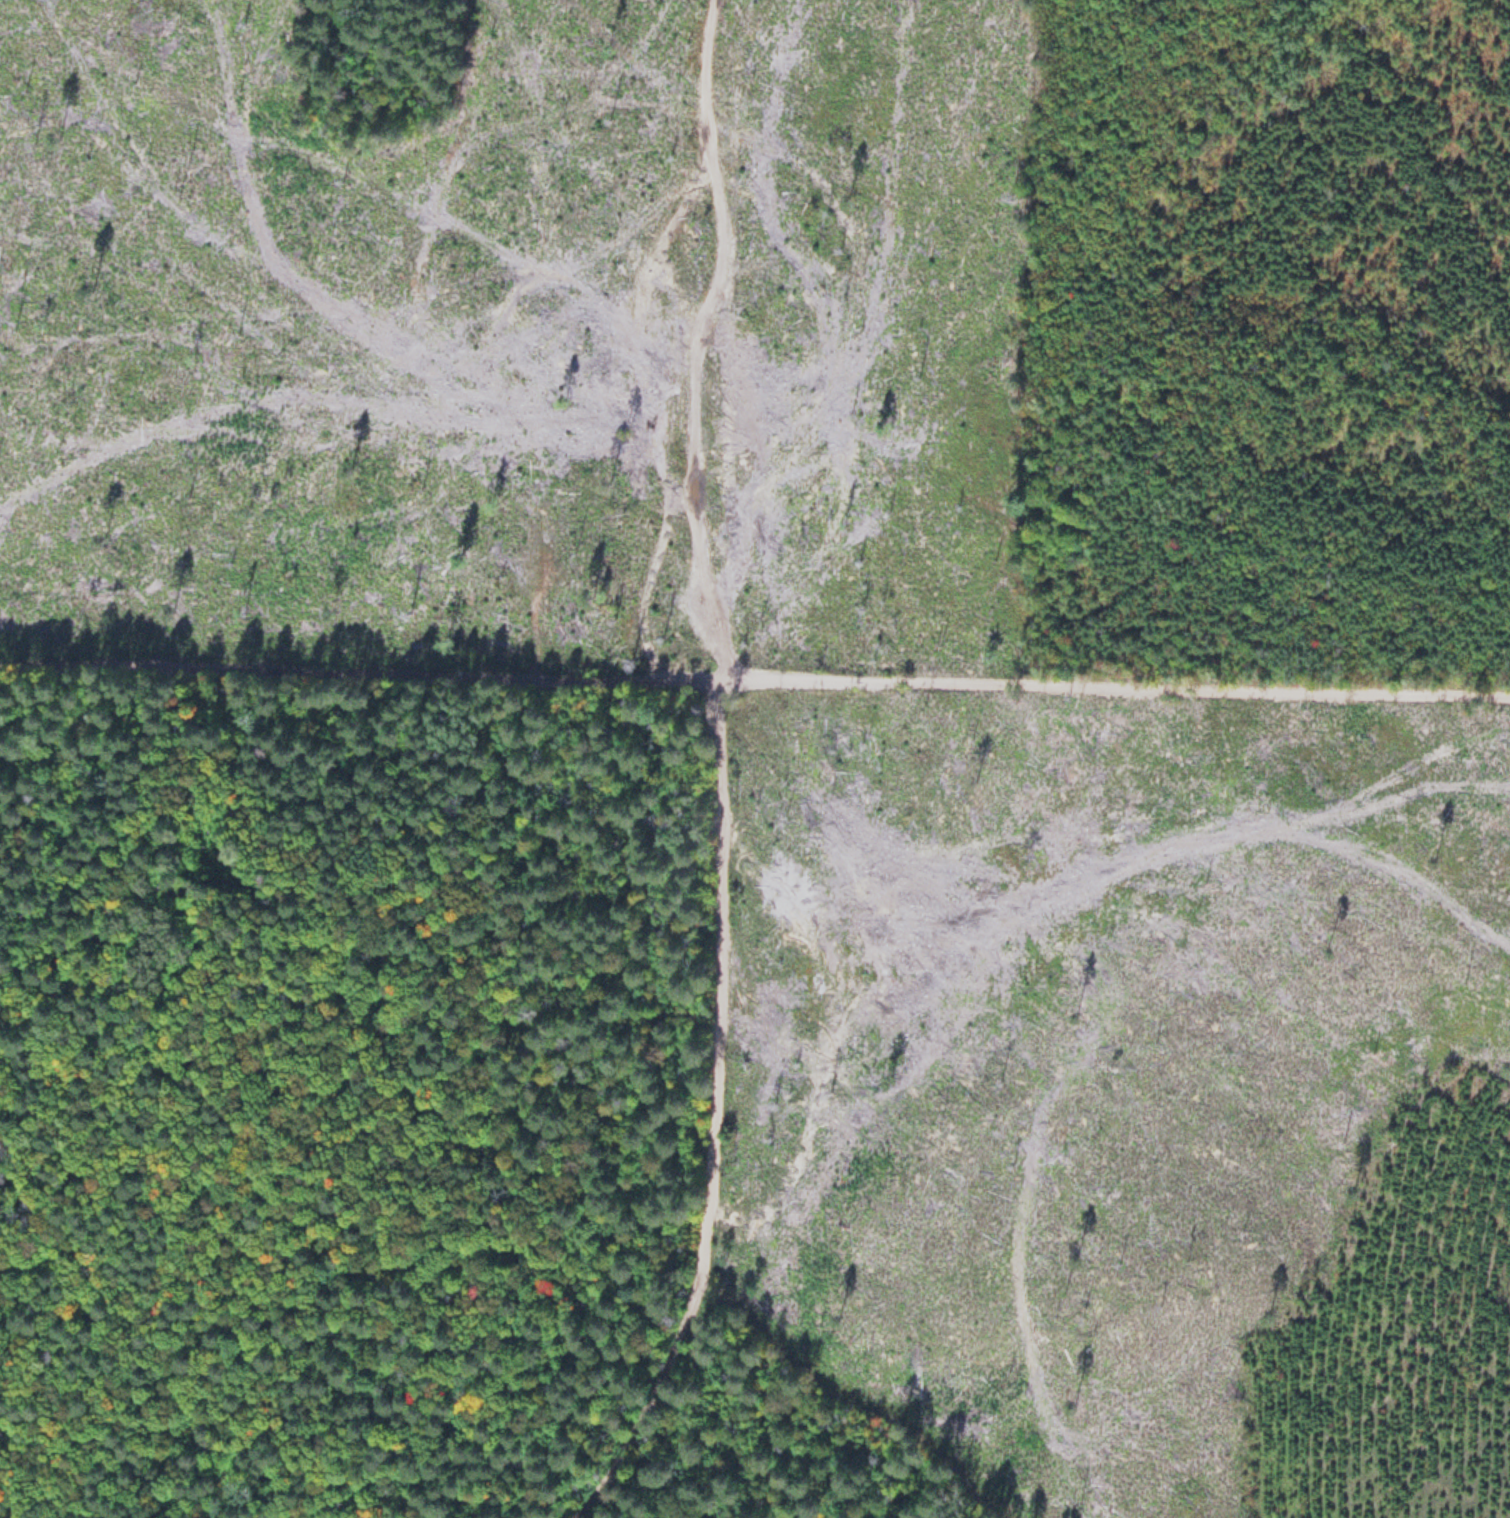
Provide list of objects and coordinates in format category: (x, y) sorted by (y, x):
road: (635, 337)
road: (754, 680)
road: (717, 1115)
road: (846, 1403)

